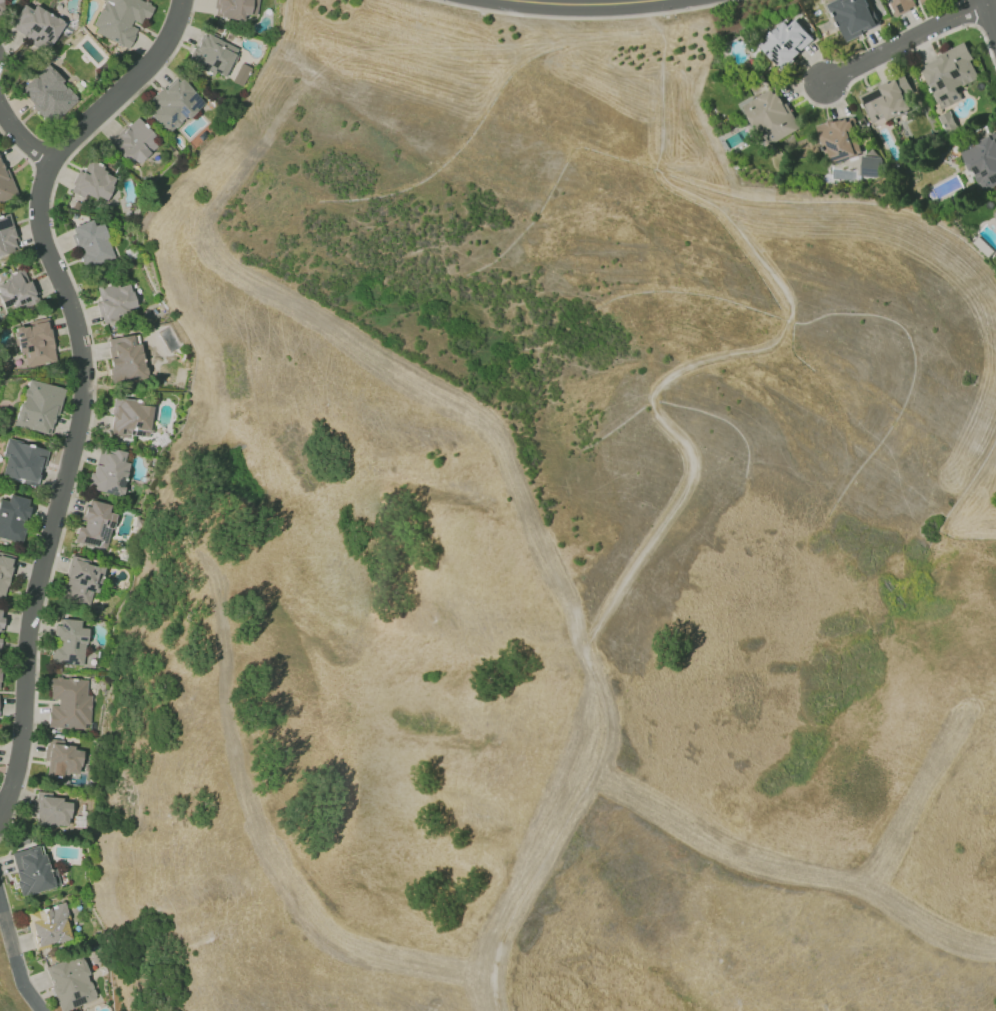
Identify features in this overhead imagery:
road: (990, 2)
road: (582, 3)
building: (901, 5)
building: (1, 7)
building: (235, 8)
building: (852, 17)
road: (989, 17)
building: (120, 19)
building: (35, 26)
road: (901, 41)
building: (785, 43)
building: (213, 55)
building: (948, 74)
building: (238, 78)
building: (47, 94)
building: (885, 100)
building: (173, 104)
building: (769, 115)
road: (20, 136)
building: (838, 139)
building: (134, 142)
building: (982, 161)
building: (869, 166)
building: (93, 182)
building: (4, 183)
building: (994, 212)
building: (6, 236)
building: (91, 242)
building: (16, 291)
building: (114, 300)
building: (34, 342)
building: (125, 358)
road: (82, 378)
building: (38, 407)
building: (130, 418)
building: (22, 461)
building: (108, 471)
building: (12, 517)
building: (94, 526)
building: (4, 573)
building: (80, 581)
building: (0, 616)
building: (0, 636)
building: (68, 642)
building: (69, 703)
building: (62, 758)
building: (50, 810)
building: (32, 871)
building: (48, 926)
road: (14, 960)
building: (69, 982)

